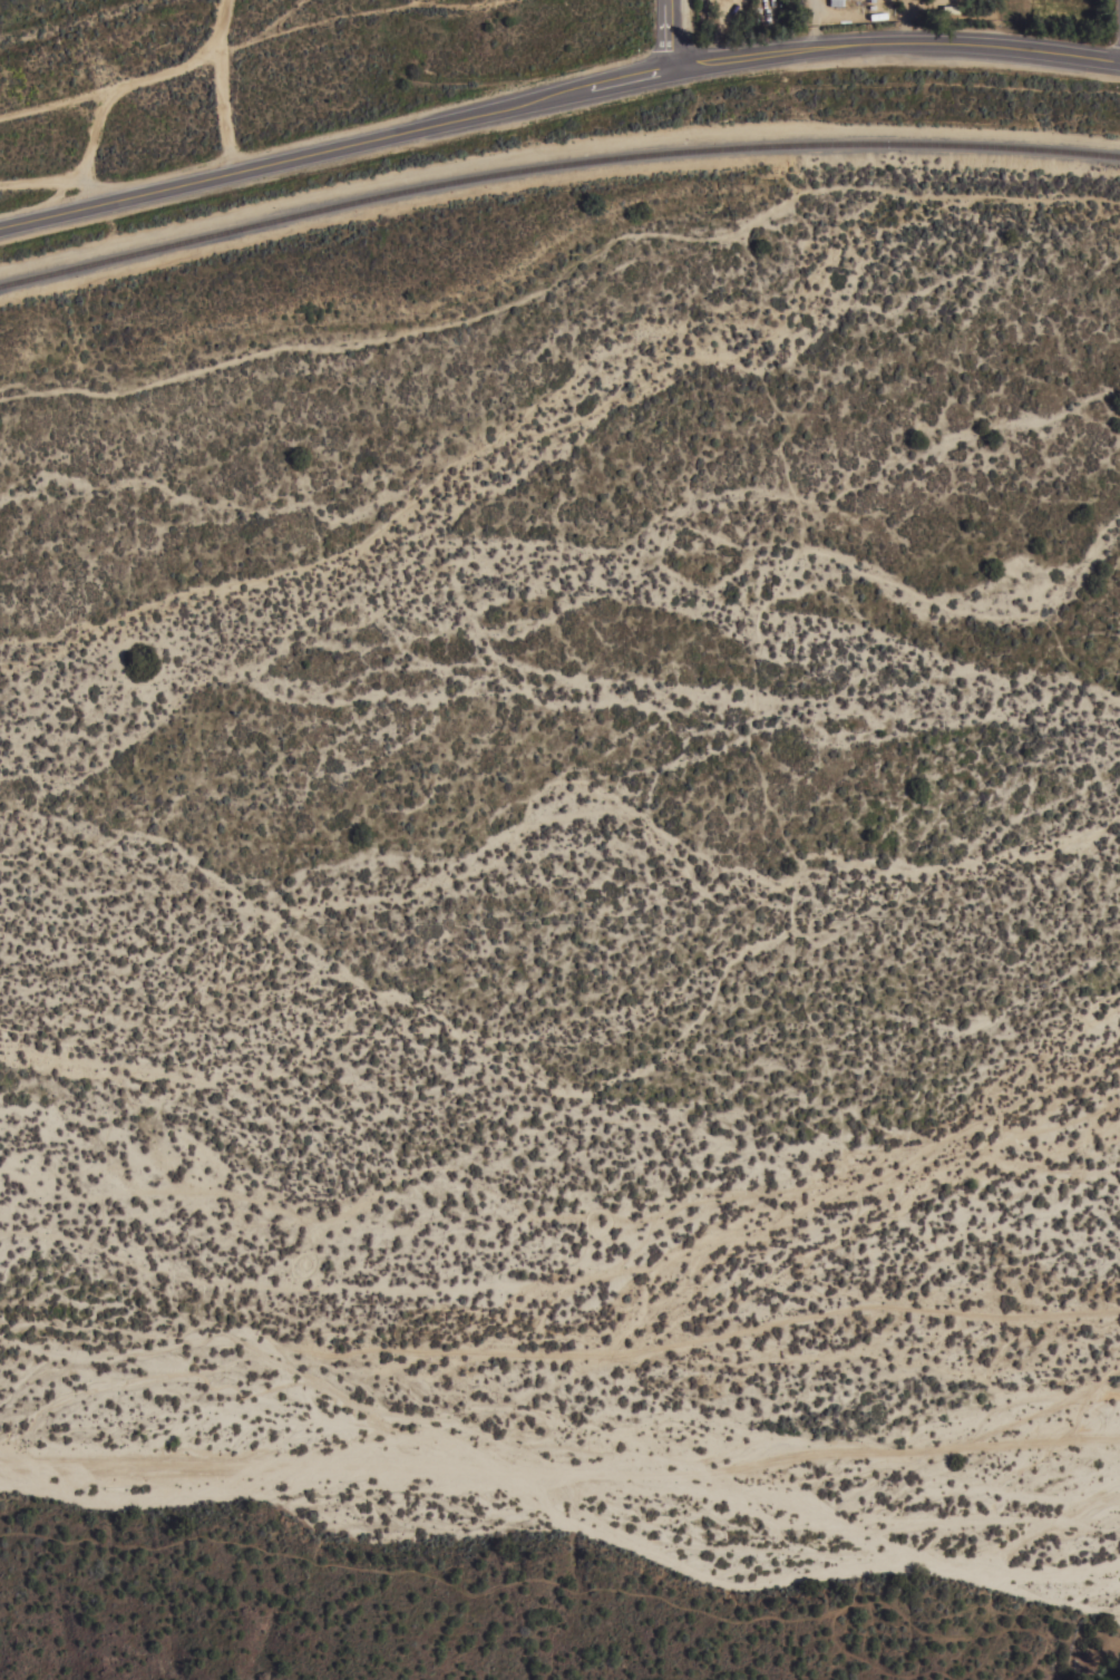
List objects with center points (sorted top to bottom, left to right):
building: (871, 0)
building: (836, 2)
road: (359, 13)
road: (277, 21)
road: (816, 25)
road: (664, 35)
road: (967, 47)
road: (220, 85)
road: (116, 88)
road: (53, 107)
road: (406, 130)
railway: (554, 165)
road: (69, 185)

